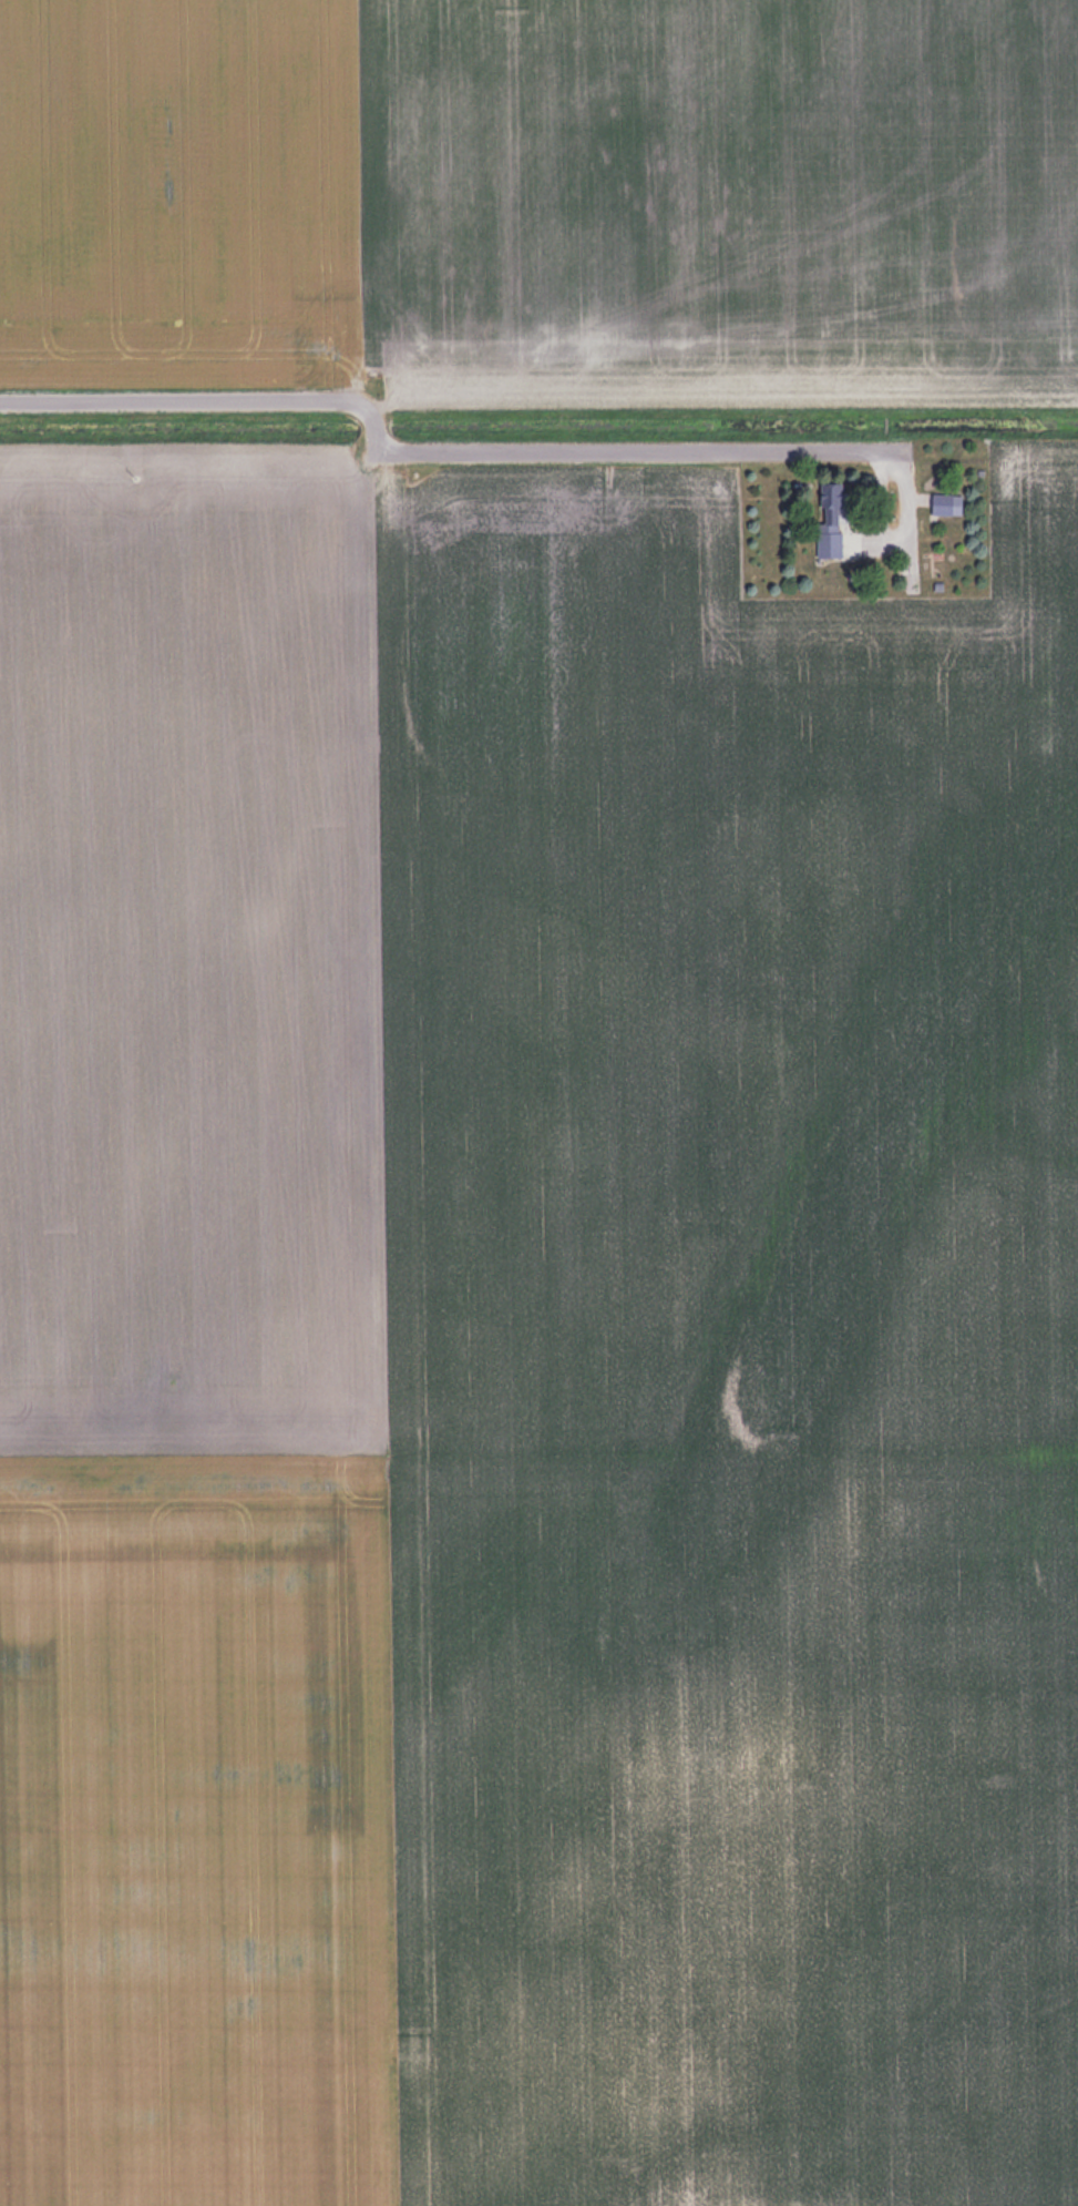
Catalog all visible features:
road: (471, 453)
building: (941, 504)
building: (827, 519)

